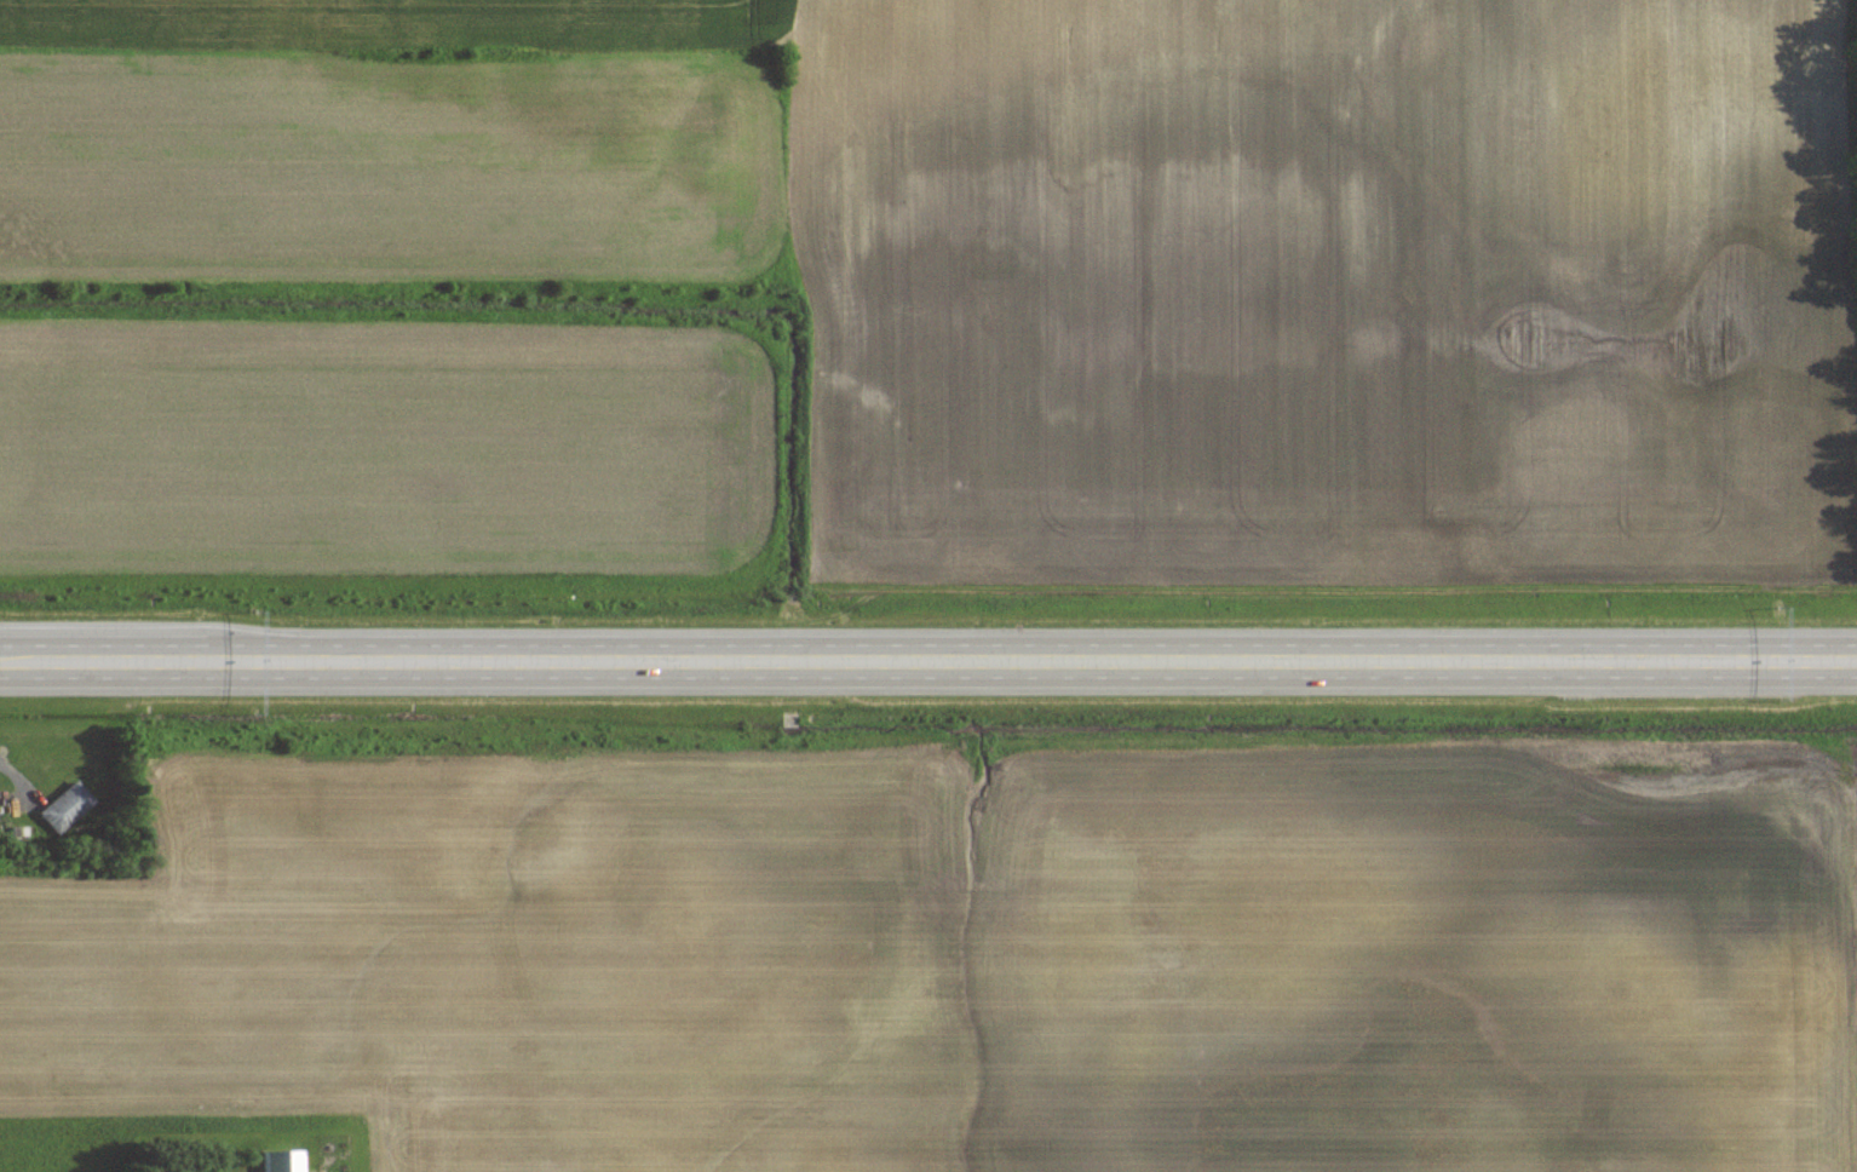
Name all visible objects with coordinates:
road: (928, 660)
building: (67, 806)
building: (280, 1161)

